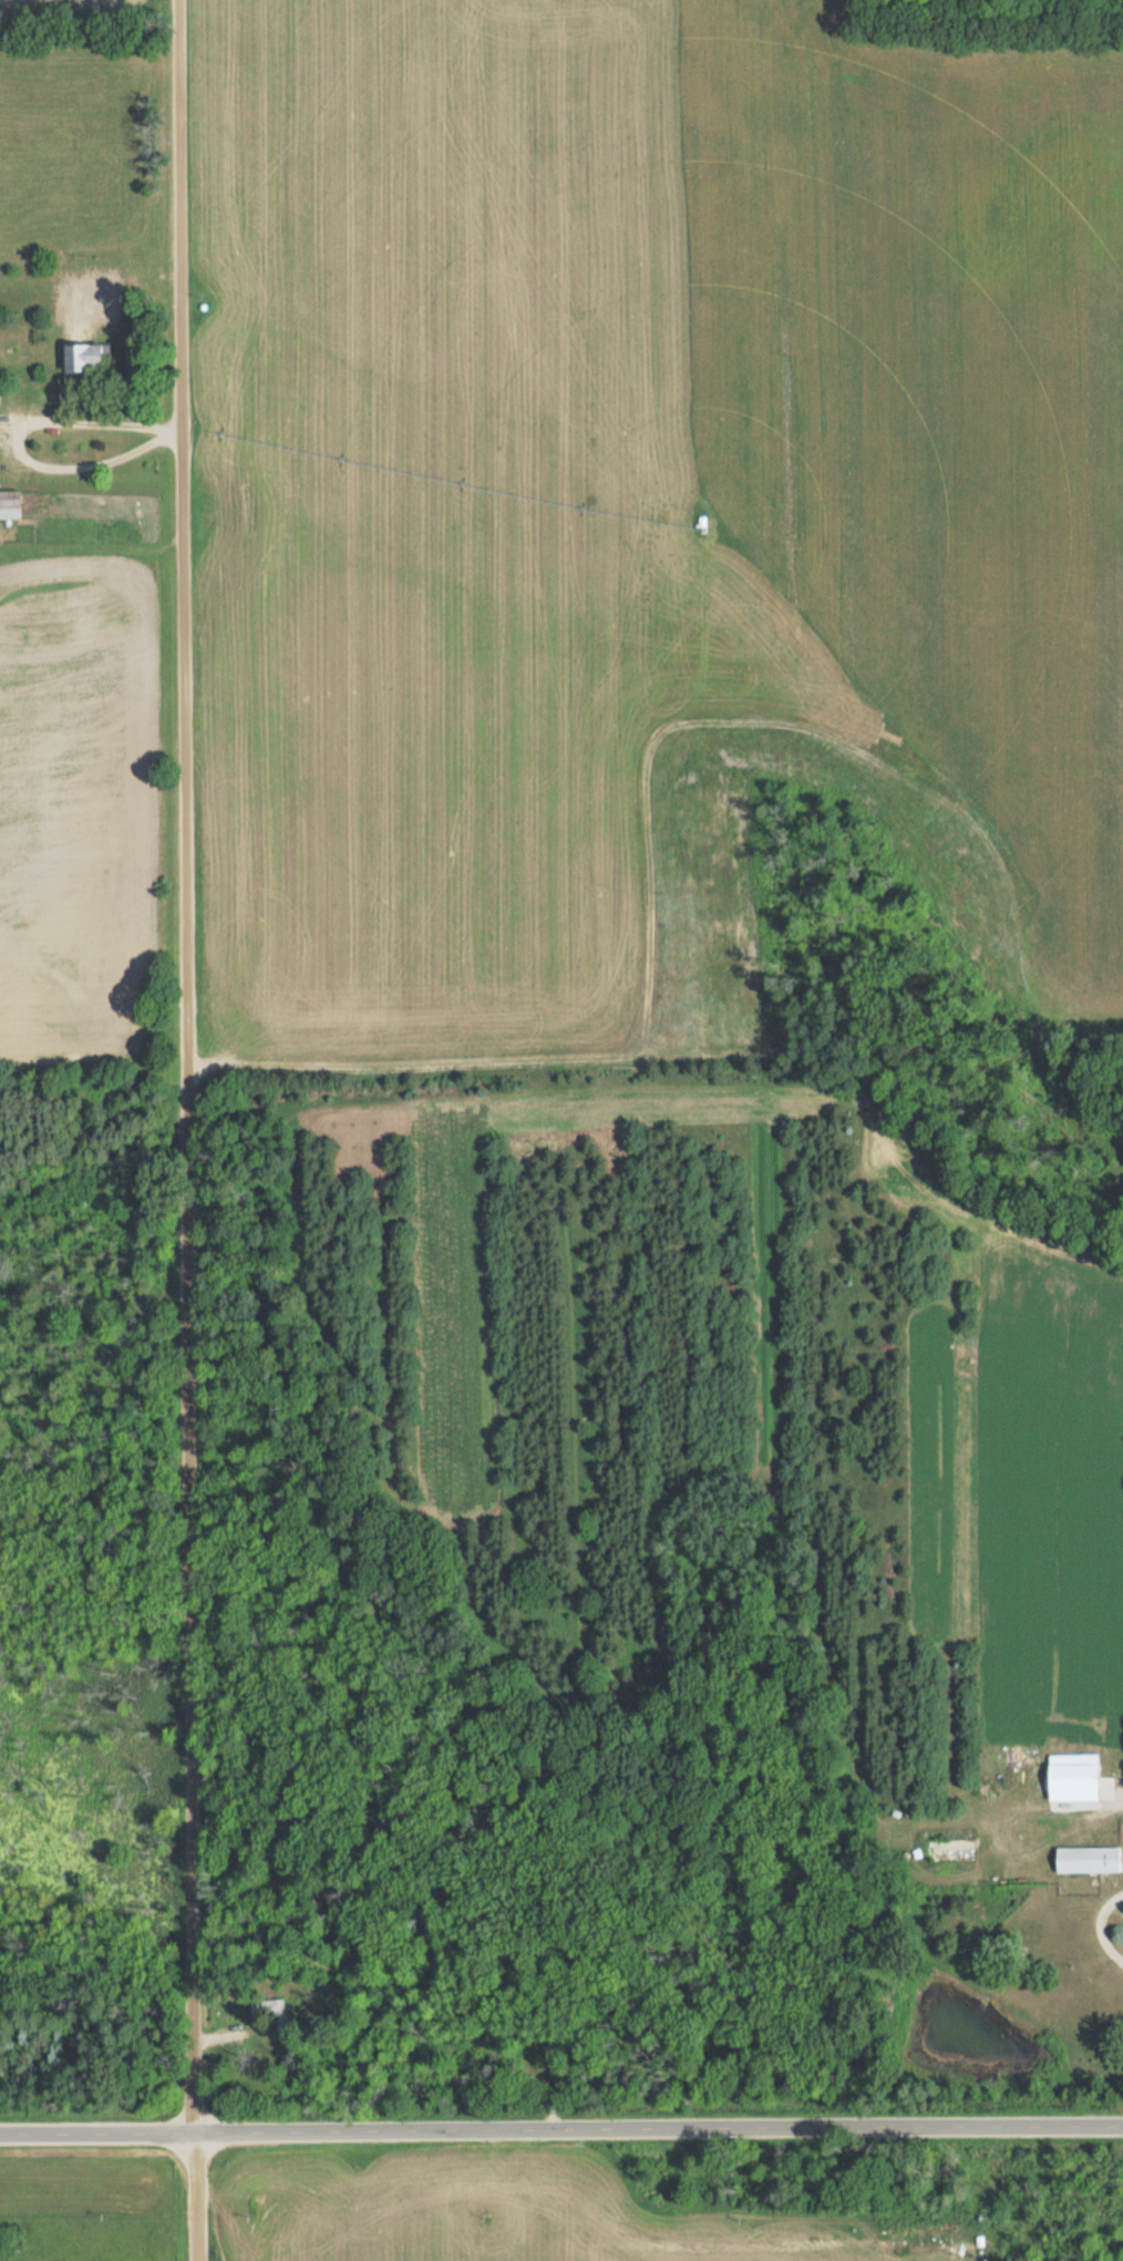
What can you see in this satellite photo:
building: (82, 358)
road: (17, 436)
building: (9, 504)
road: (188, 1066)
building: (1086, 1859)
road: (1100, 1923)
road: (658, 2128)
road: (96, 2132)
road: (193, 2197)

